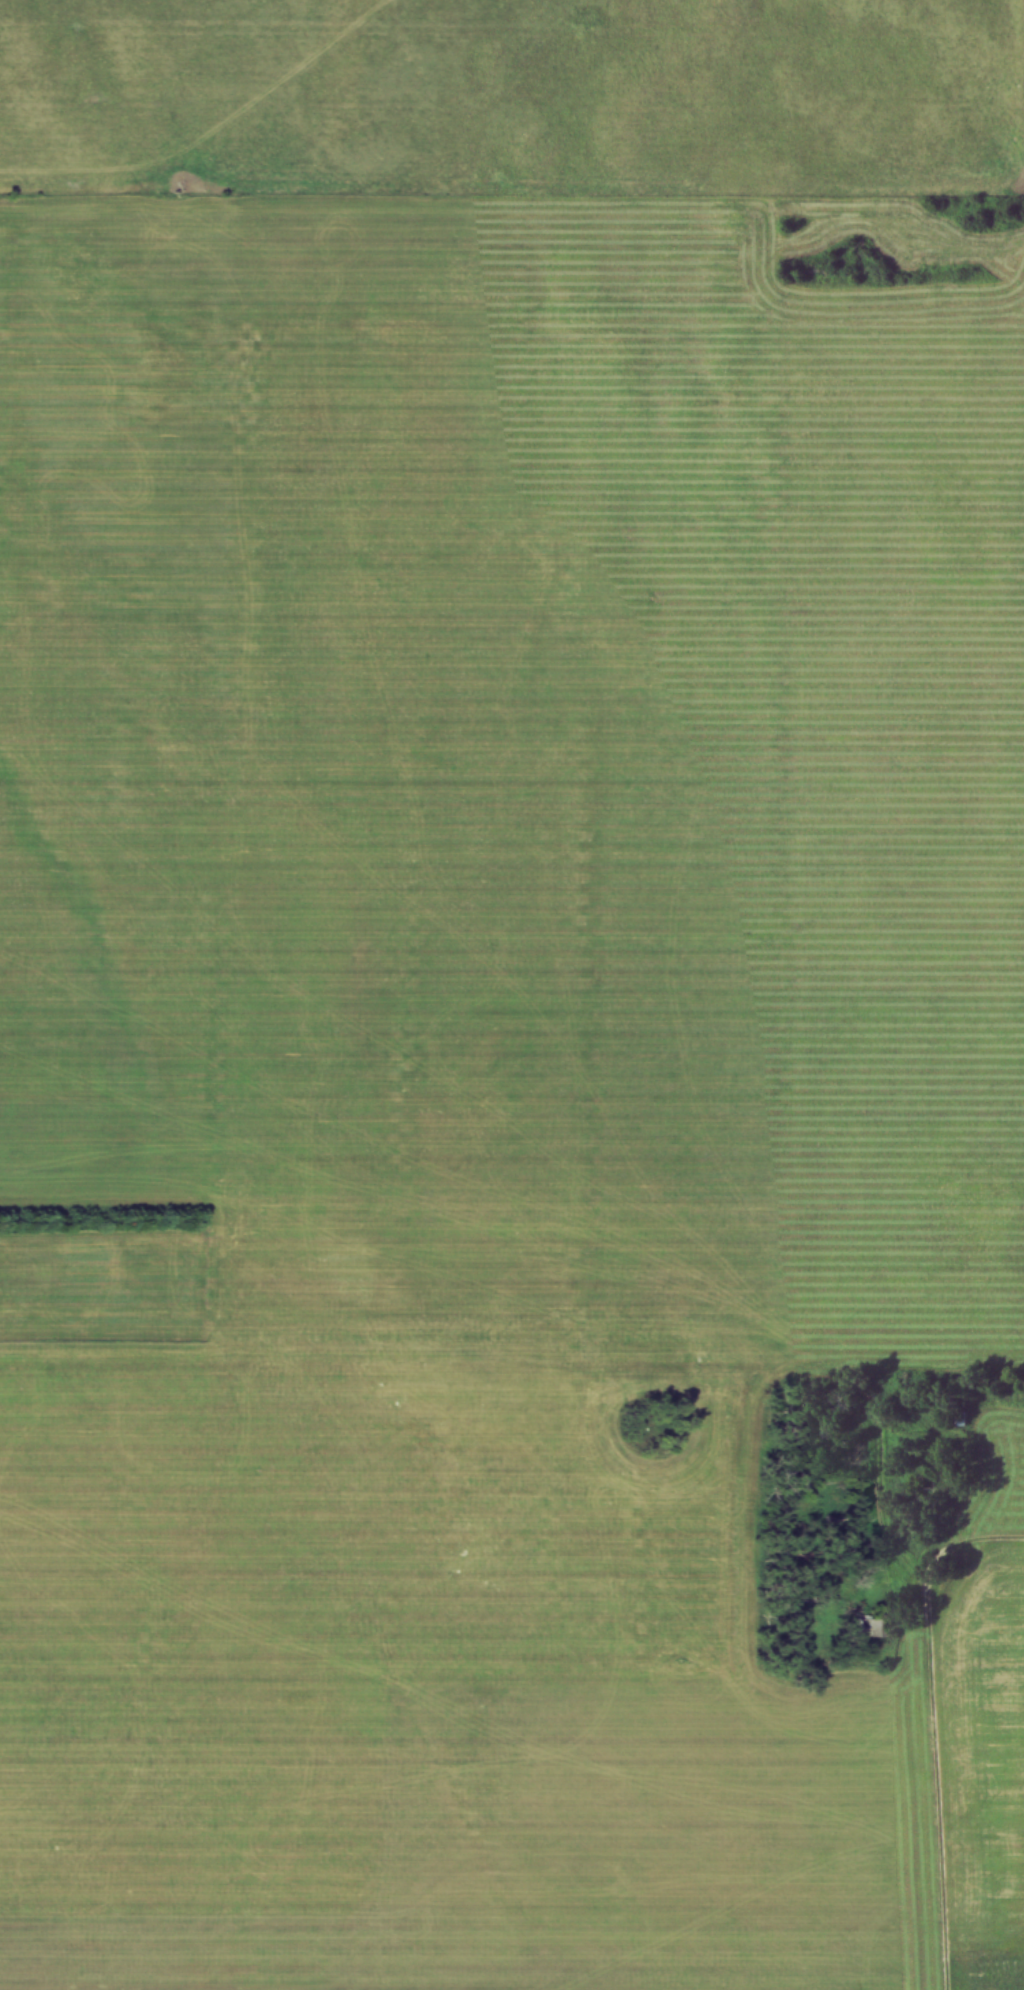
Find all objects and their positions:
building: (961, 1420)
building: (866, 1627)

